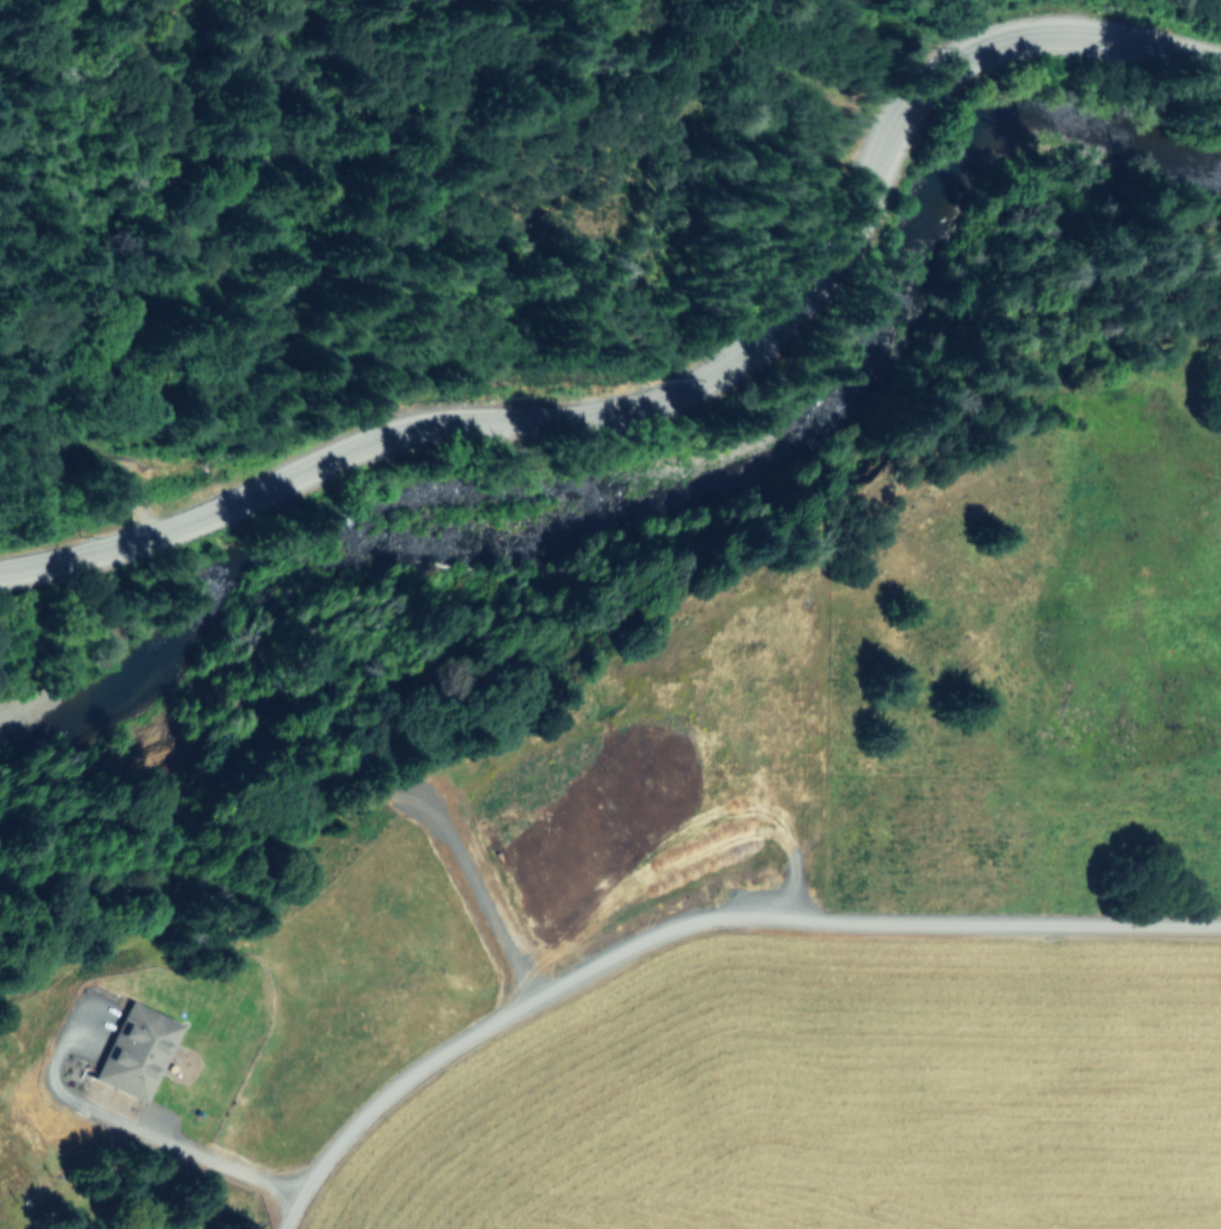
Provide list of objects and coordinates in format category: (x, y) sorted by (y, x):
road: (681, 388)
crop: (728, 920)
road: (701, 926)
building: (136, 1050)
road: (185, 1140)

